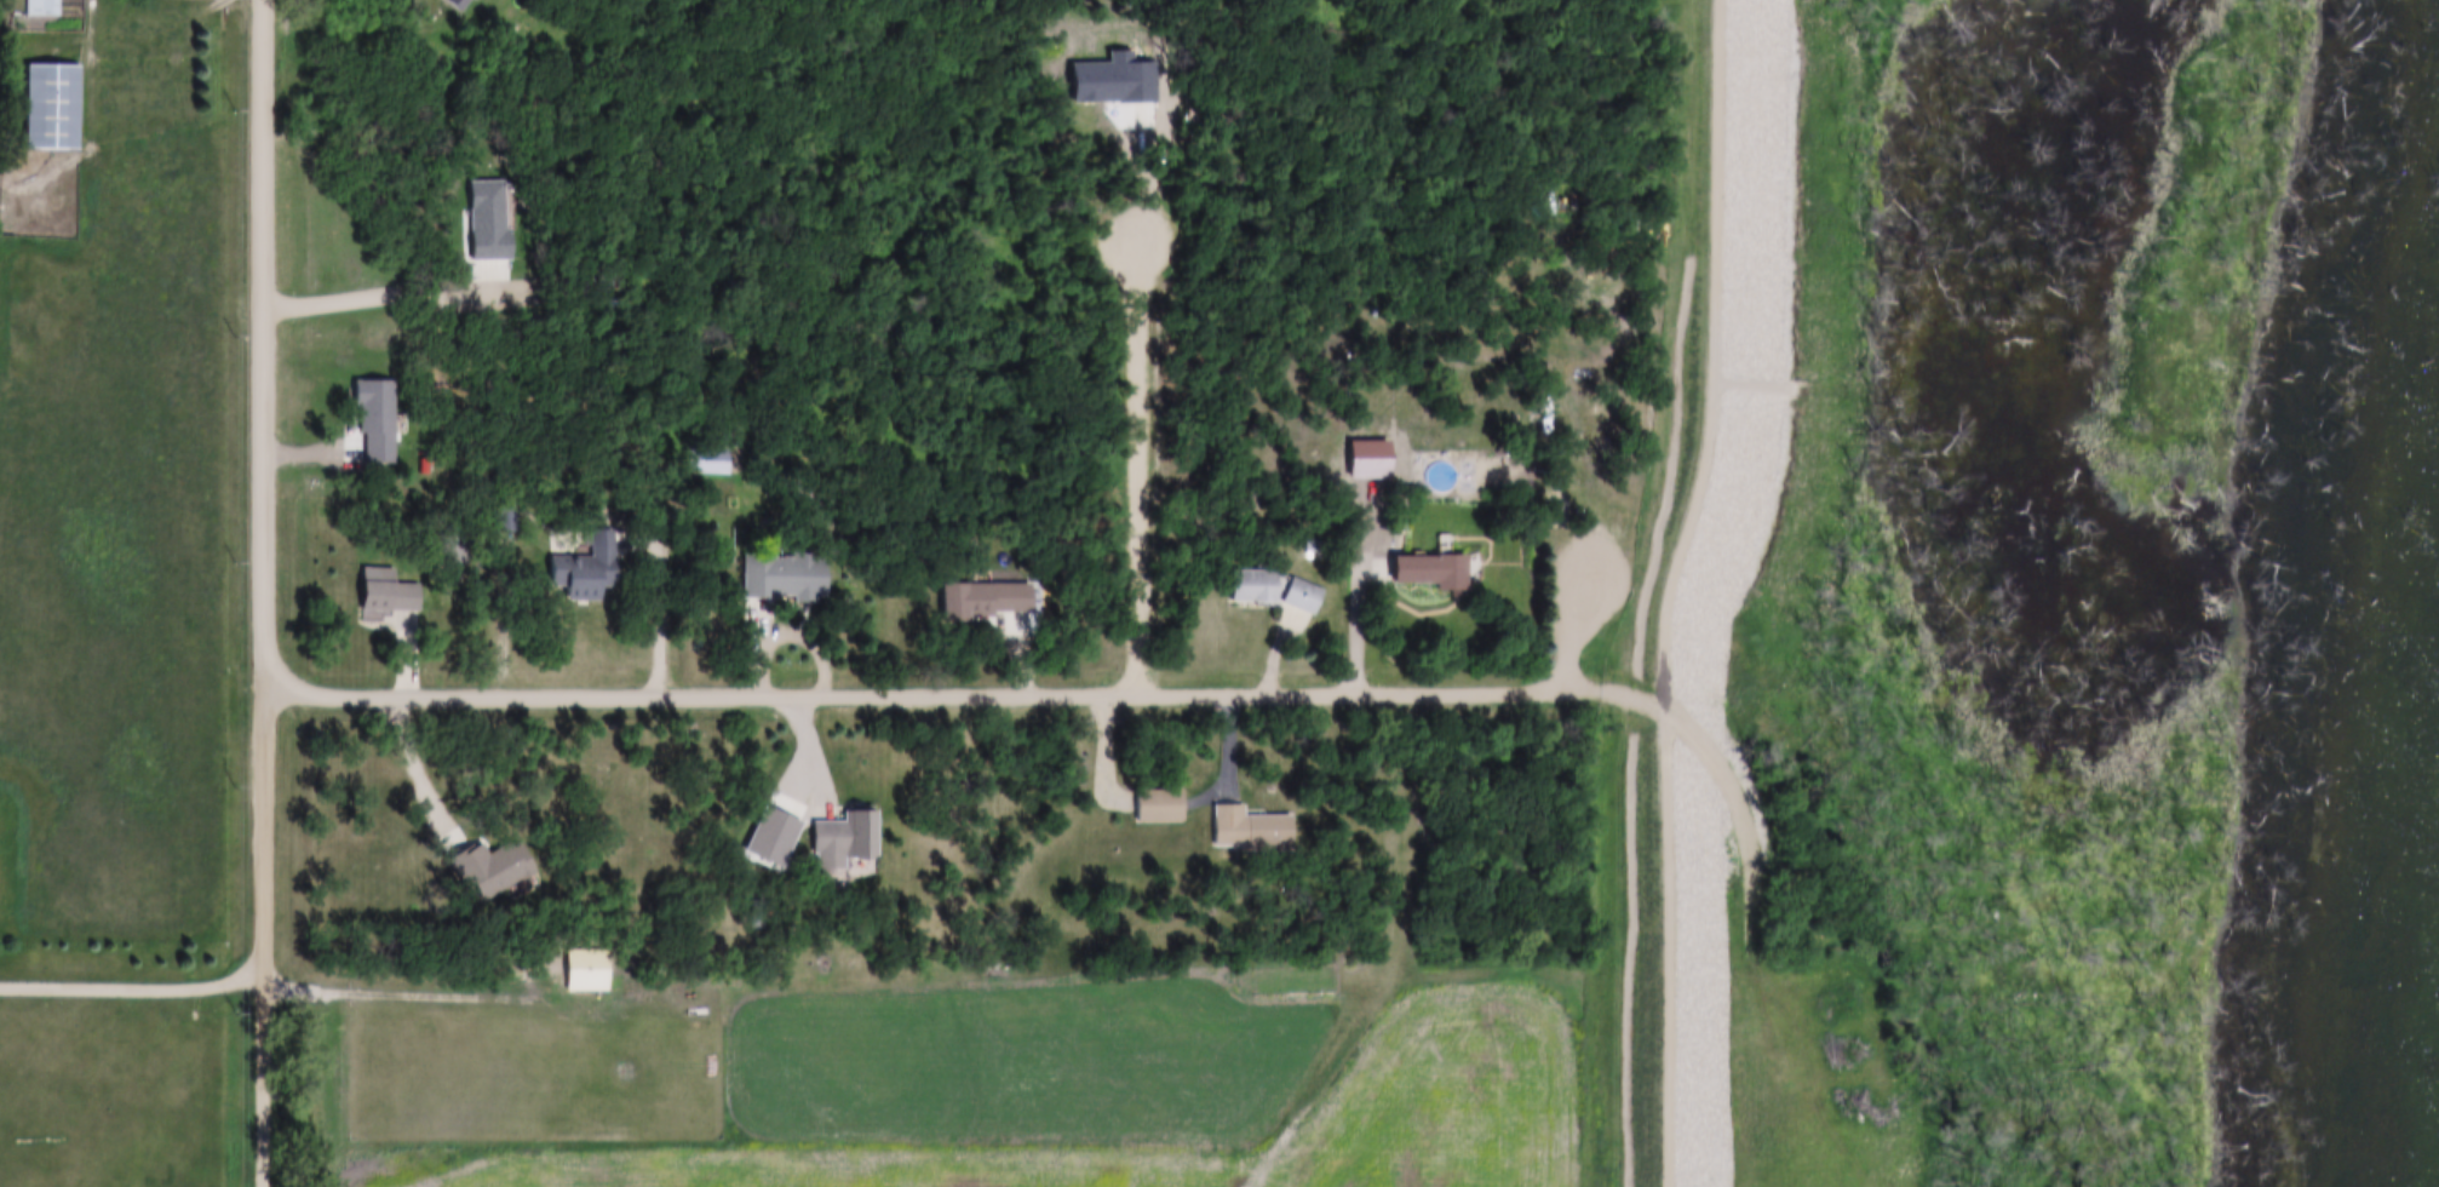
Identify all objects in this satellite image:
building: (51, 15)
road: (96, 80)
building: (52, 107)
road: (269, 486)
building: (589, 569)
building: (1433, 570)
building: (782, 583)
building: (1275, 591)
building: (389, 593)
building: (1672, 593)
road: (878, 692)
building: (1160, 807)
building: (1251, 830)
building: (845, 839)
building: (589, 970)
road: (134, 988)
road: (269, 1079)

